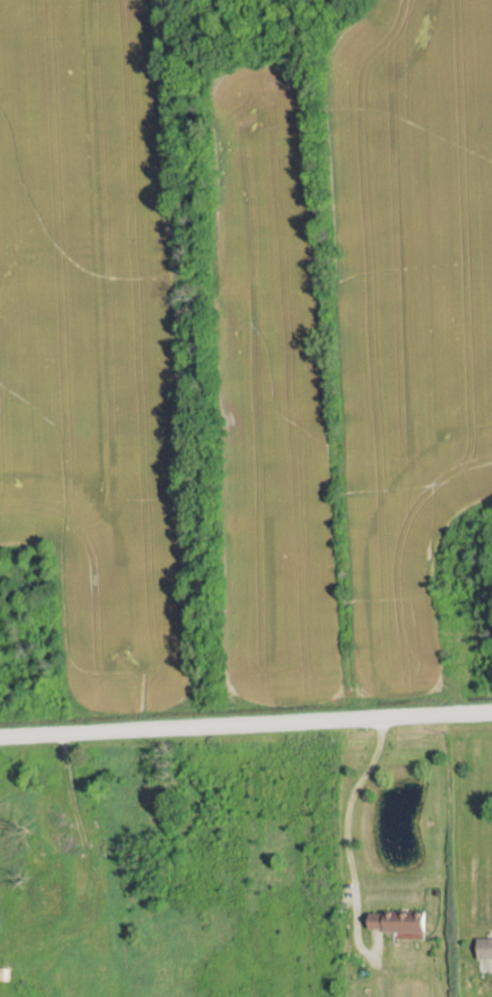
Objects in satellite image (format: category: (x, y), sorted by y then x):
road: (246, 728)
building: (59, 836)
road: (345, 848)
building: (399, 922)
building: (485, 949)

